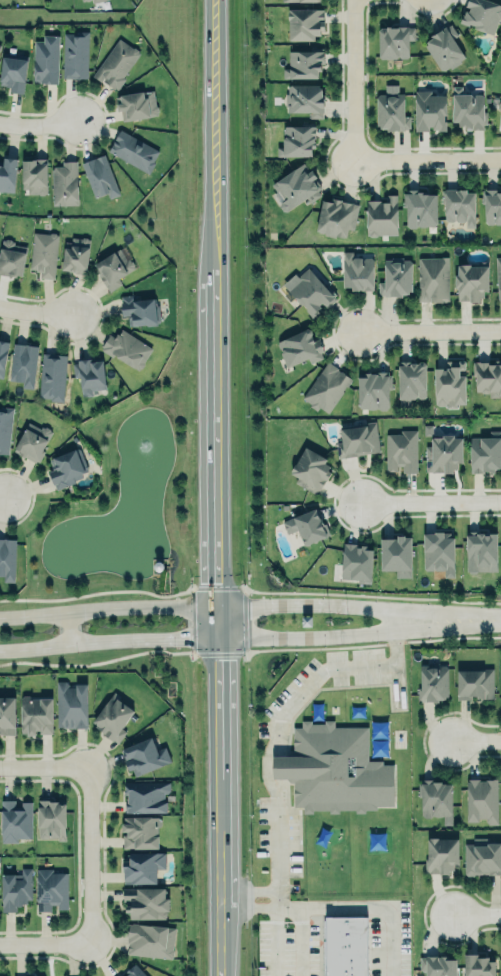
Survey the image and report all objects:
building: (84, 0)
building: (94, 0)
building: (294, 0)
building: (482, 13)
building: (304, 23)
building: (394, 40)
building: (0, 44)
building: (444, 48)
building: (75, 54)
building: (45, 59)
building: (115, 63)
building: (303, 63)
building: (13, 71)
road: (350, 81)
building: (305, 99)
building: (135, 104)
building: (499, 104)
building: (467, 108)
building: (391, 110)
building: (429, 110)
road: (35, 126)
building: (297, 139)
building: (133, 150)
road: (426, 160)
building: (7, 174)
building: (34, 175)
building: (99, 176)
building: (64, 183)
building: (296, 186)
building: (459, 206)
building: (419, 207)
building: (492, 207)
building: (381, 215)
building: (336, 216)
building: (43, 254)
building: (75, 254)
building: (11, 258)
building: (113, 267)
building: (356, 271)
building: (498, 276)
building: (396, 277)
building: (432, 278)
building: (470, 280)
building: (311, 291)
road: (36, 310)
building: (139, 310)
road: (429, 330)
building: (299, 347)
building: (127, 349)
building: (2, 357)
building: (23, 364)
building: (88, 374)
building: (51, 375)
building: (487, 376)
building: (411, 379)
building: (449, 383)
building: (326, 386)
building: (373, 391)
building: (5, 427)
building: (357, 439)
building: (33, 441)
fountain: (145, 449)
building: (401, 451)
building: (485, 452)
building: (443, 453)
building: (67, 467)
building: (310, 469)
road: (215, 488)
road: (0, 498)
road: (430, 503)
building: (305, 526)
building: (480, 551)
building: (396, 552)
building: (438, 552)
building: (7, 558)
building: (355, 561)
road: (358, 607)
road: (107, 608)
road: (67, 628)
road: (359, 633)
road: (108, 641)
building: (433, 682)
building: (474, 684)
building: (71, 704)
building: (7, 715)
building: (36, 715)
building: (113, 717)
road: (474, 739)
building: (144, 756)
road: (265, 761)
building: (336, 768)
road: (43, 770)
building: (146, 796)
building: (482, 799)
building: (436, 800)
building: (51, 819)
building: (15, 820)
building: (141, 831)
building: (441, 854)
building: (481, 855)
road: (88, 856)
building: (142, 867)
building: (16, 888)
building: (51, 889)
building: (145, 902)
road: (342, 902)
road: (476, 913)
building: (150, 940)
road: (45, 942)
building: (340, 948)
building: (477, 965)
building: (437, 966)
building: (135, 971)
building: (35, 975)
building: (122, 975)

